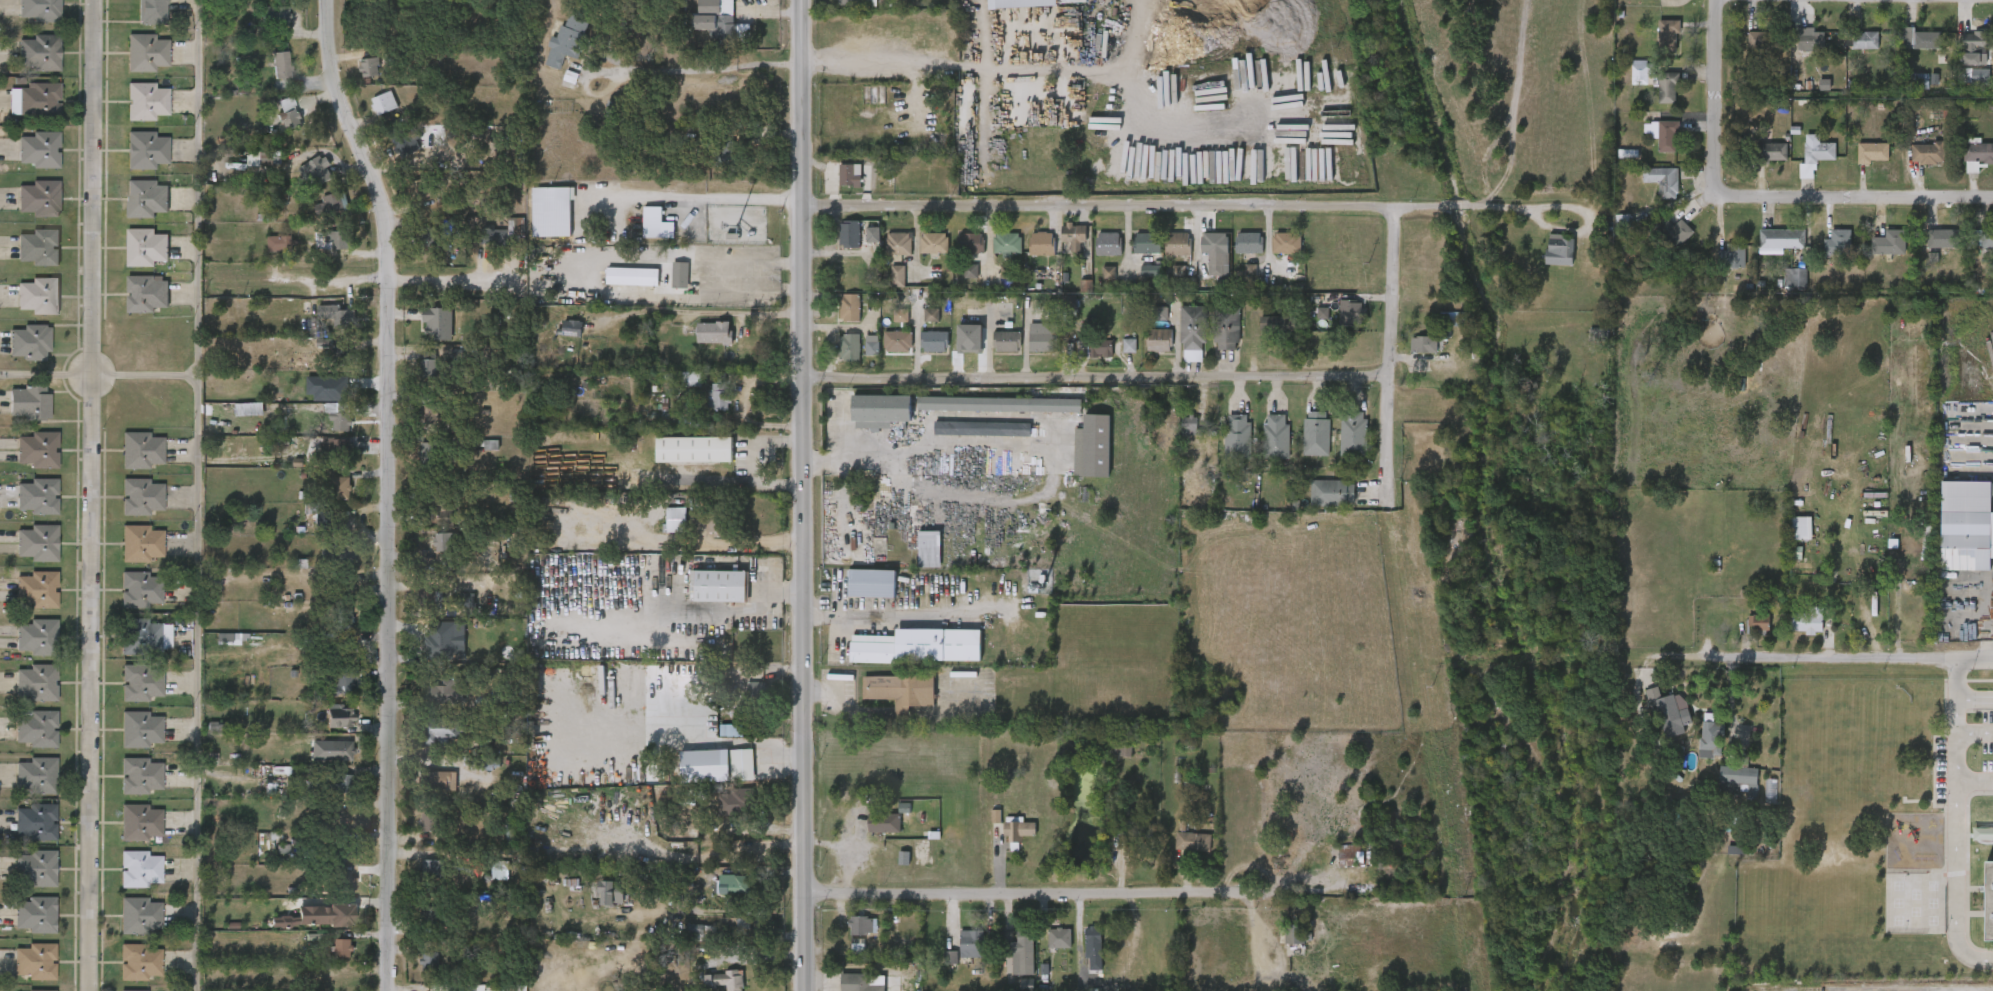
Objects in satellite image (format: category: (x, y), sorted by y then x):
building: (849, 2)
building: (1020, 4)
building: (39, 10)
building: (152, 12)
building: (272, 16)
building: (715, 20)
building: (1667, 37)
building: (1918, 39)
building: (566, 41)
building: (1812, 41)
building: (1864, 41)
building: (1976, 42)
building: (1763, 43)
building: (147, 52)
building: (39, 53)
building: (280, 64)
road: (877, 64)
road: (1040, 65)
building: (369, 67)
road: (701, 71)
building: (1638, 71)
building: (1980, 77)
building: (1920, 81)
building: (1667, 89)
road: (1714, 98)
building: (147, 100)
building: (38, 101)
building: (383, 102)
building: (289, 112)
building: (1664, 136)
building: (404, 142)
building: (38, 149)
building: (146, 150)
building: (1817, 151)
building: (722, 152)
building: (1770, 153)
building: (1872, 153)
building: (1978, 153)
building: (1926, 154)
building: (261, 159)
building: (318, 168)
building: (847, 175)
building: (1661, 181)
building: (423, 188)
building: (38, 197)
road: (696, 197)
building: (147, 198)
road: (1853, 199)
building: (328, 204)
road: (1194, 207)
building: (551, 211)
building: (655, 223)
building: (1073, 232)
building: (492, 233)
building: (848, 233)
building: (1674, 233)
building: (872, 234)
building: (427, 236)
building: (1942, 239)
building: (340, 240)
building: (1781, 240)
building: (1986, 240)
building: (932, 242)
building: (280, 243)
building: (897, 243)
building: (969, 243)
building: (1005, 243)
building: (1041, 243)
building: (1107, 243)
building: (1146, 243)
building: (1247, 243)
building: (1285, 243)
building: (1177, 244)
building: (1838, 244)
building: (1888, 244)
building: (38, 246)
building: (147, 247)
building: (1214, 247)
building: (1558, 252)
building: (1736, 254)
road: (596, 258)
road: (748, 270)
building: (971, 271)
building: (1151, 271)
building: (1006, 273)
building: (1109, 273)
building: (679, 274)
building: (632, 275)
building: (897, 276)
building: (1795, 278)
road: (391, 279)
road: (748, 290)
building: (146, 293)
building: (38, 295)
building: (849, 305)
road: (703, 311)
building: (1351, 312)
building: (334, 313)
building: (1323, 313)
building: (1160, 314)
building: (931, 315)
building: (901, 316)
building: (439, 323)
building: (1276, 324)
building: (568, 326)
building: (1192, 328)
building: (1225, 328)
building: (714, 332)
building: (1597, 335)
building: (29, 338)
building: (970, 338)
building: (896, 339)
building: (1005, 339)
building: (933, 340)
building: (1041, 340)
building: (1158, 340)
road: (1389, 341)
building: (871, 342)
building: (1128, 345)
building: (1424, 345)
building: (849, 346)
building: (1093, 348)
building: (427, 366)
road: (98, 374)
road: (1095, 378)
building: (328, 388)
building: (717, 392)
building: (30, 402)
building: (998, 404)
building: (881, 409)
building: (249, 410)
building: (427, 413)
building: (340, 416)
building: (1190, 425)
building: (982, 429)
building: (1353, 435)
building: (1316, 437)
building: (1237, 438)
building: (1276, 438)
building: (485, 444)
aquafarm: (1291, 445)
building: (1093, 447)
building: (37, 448)
building: (142, 448)
building: (695, 448)
road: (843, 448)
building: (336, 449)
building: (430, 454)
road: (1051, 459)
road: (751, 460)
road: (688, 481)
building: (338, 483)
road: (395, 490)
building: (1332, 493)
building: (37, 495)
road: (92, 495)
road: (196, 495)
road: (803, 495)
building: (142, 496)
building: (441, 511)
building: (676, 518)
building: (338, 521)
building: (1966, 524)
building: (1801, 528)
building: (36, 542)
building: (142, 543)
building: (444, 544)
building: (929, 549)
building: (333, 552)
building: (1795, 553)
building: (872, 583)
building: (722, 584)
building: (336, 586)
building: (36, 589)
building: (141, 589)
building: (428, 599)
road: (702, 615)
road: (886, 616)
building: (340, 618)
building: (1808, 621)
building: (1759, 622)
building: (538, 630)
building: (36, 636)
building: (145, 636)
building: (426, 636)
building: (228, 638)
building: (920, 646)
road: (1841, 658)
building: (141, 682)
building: (340, 682)
building: (36, 683)
building: (902, 688)
building: (757, 691)
building: (447, 693)
road: (1974, 693)
road: (834, 703)
building: (1670, 713)
building: (340, 716)
building: (35, 728)
building: (141, 728)
building: (215, 728)
road: (1974, 730)
building: (438, 735)
building: (1711, 740)
building: (339, 747)
building: (1123, 748)
building: (742, 763)
building: (485, 764)
building: (140, 772)
building: (37, 776)
building: (1740, 778)
building: (439, 781)
building: (339, 782)
road: (1974, 782)
building: (736, 802)
building: (35, 821)
building: (432, 821)
building: (140, 822)
road: (1954, 822)
building: (884, 824)
building: (1019, 830)
building: (1192, 842)
building: (339, 849)
road: (845, 850)
building: (919, 851)
building: (1350, 856)
building: (904, 858)
building: (36, 867)
building: (431, 867)
building: (140, 868)
building: (500, 871)
building: (340, 881)
building: (738, 885)
road: (1299, 891)
building: (604, 893)
road: (1027, 893)
building: (1988, 898)
building: (35, 914)
building: (140, 915)
building: (340, 915)
building: (430, 916)
building: (744, 926)
building: (860, 926)
building: (701, 932)
building: (1294, 934)
building: (1024, 938)
building: (1052, 939)
building: (972, 943)
building: (343, 948)
building: (1093, 949)
building: (951, 958)
building: (429, 959)
building: (34, 960)
building: (140, 961)
building: (728, 979)
building: (857, 982)
building: (1027, 984)
building: (34, 990)
building: (123, 990)

